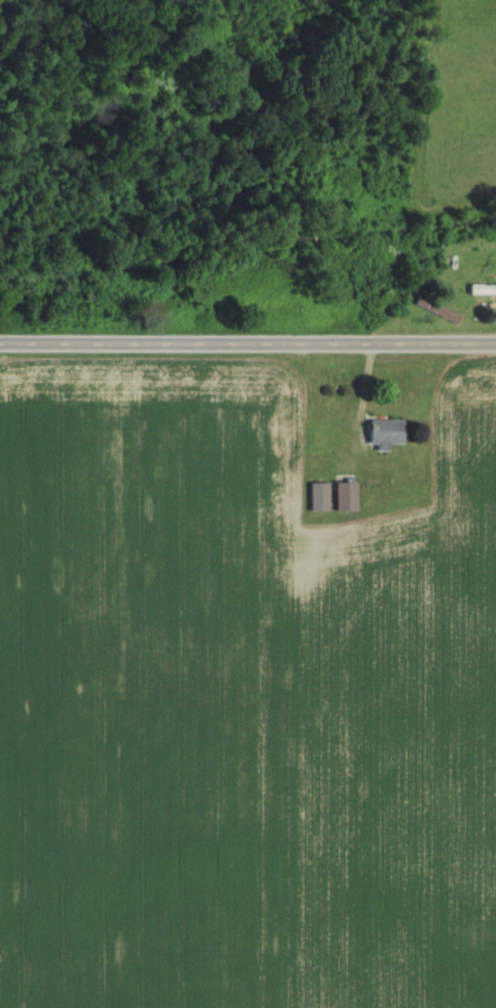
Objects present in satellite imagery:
building: (480, 290)
road: (248, 343)
building: (379, 434)
building: (315, 498)
building: (341, 498)

